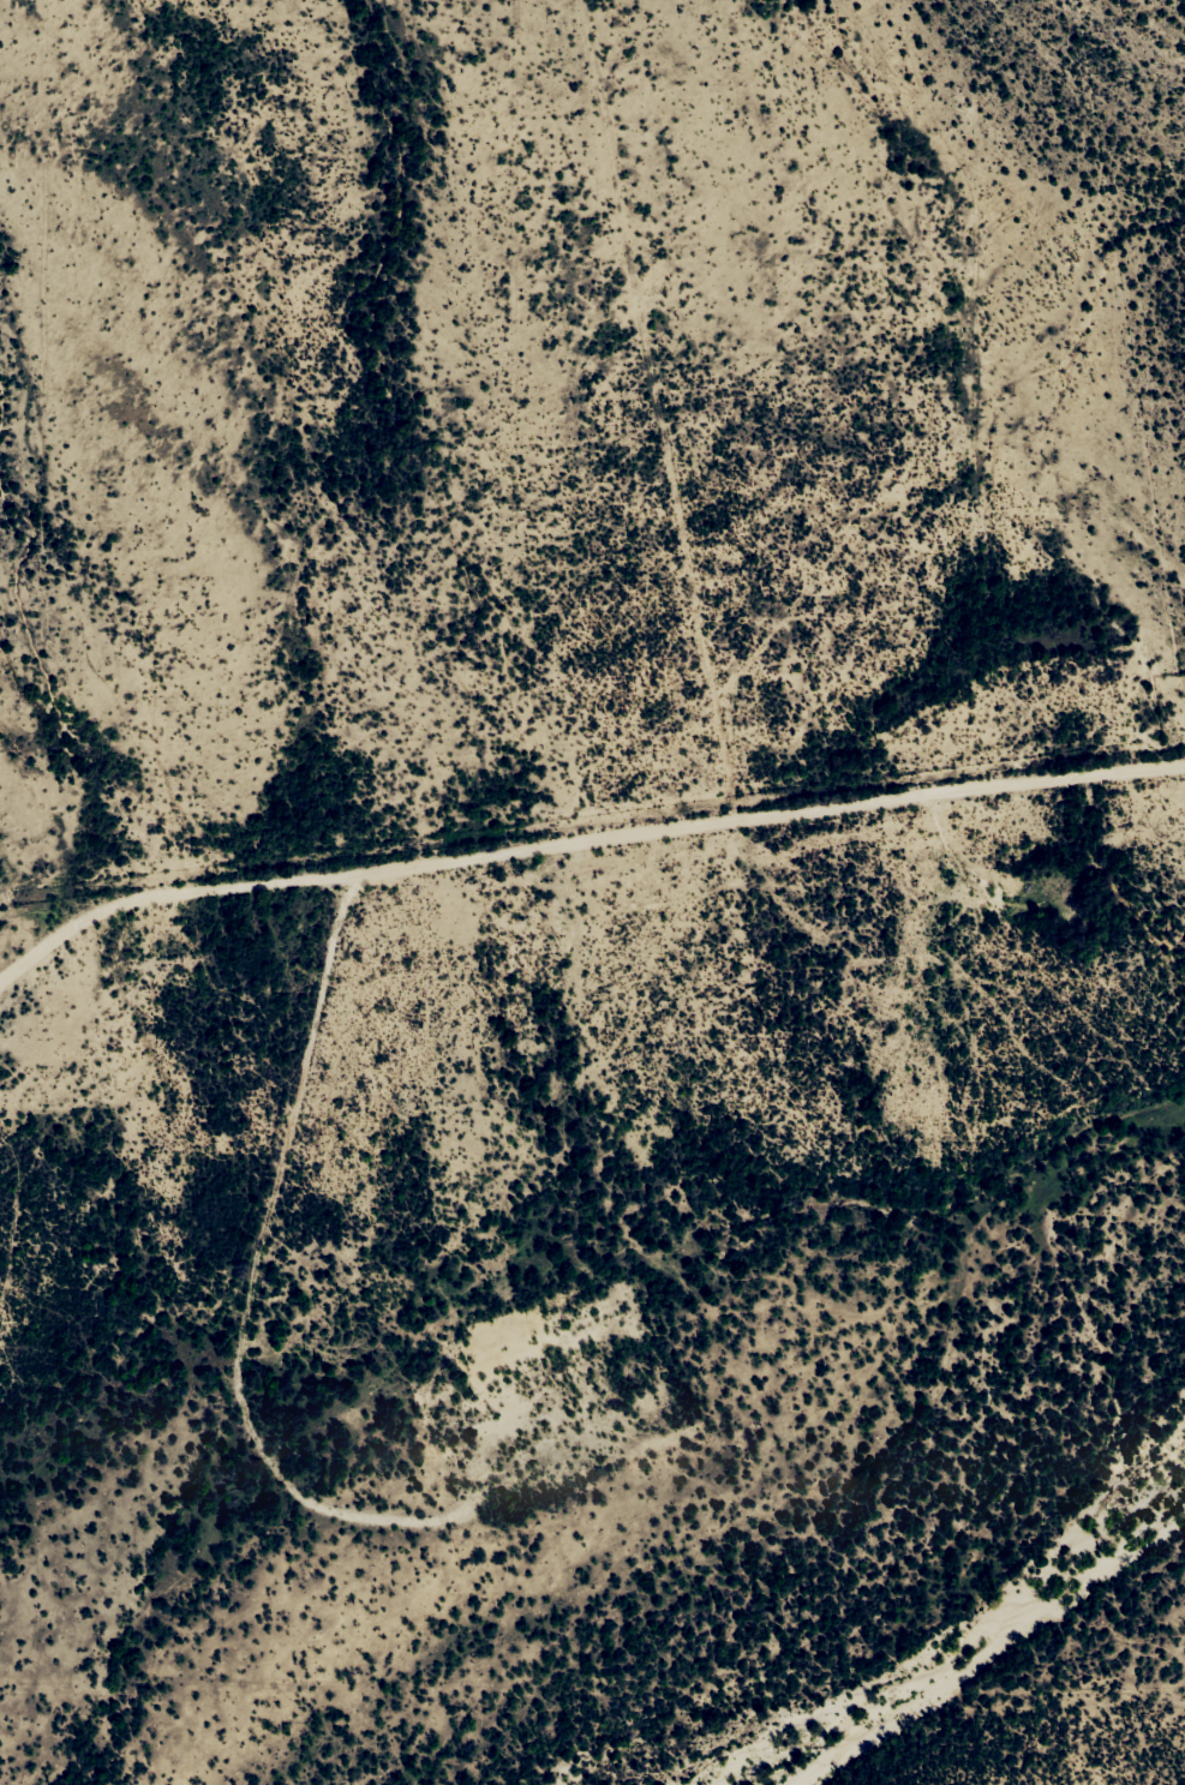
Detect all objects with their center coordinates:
road: (579, 827)

